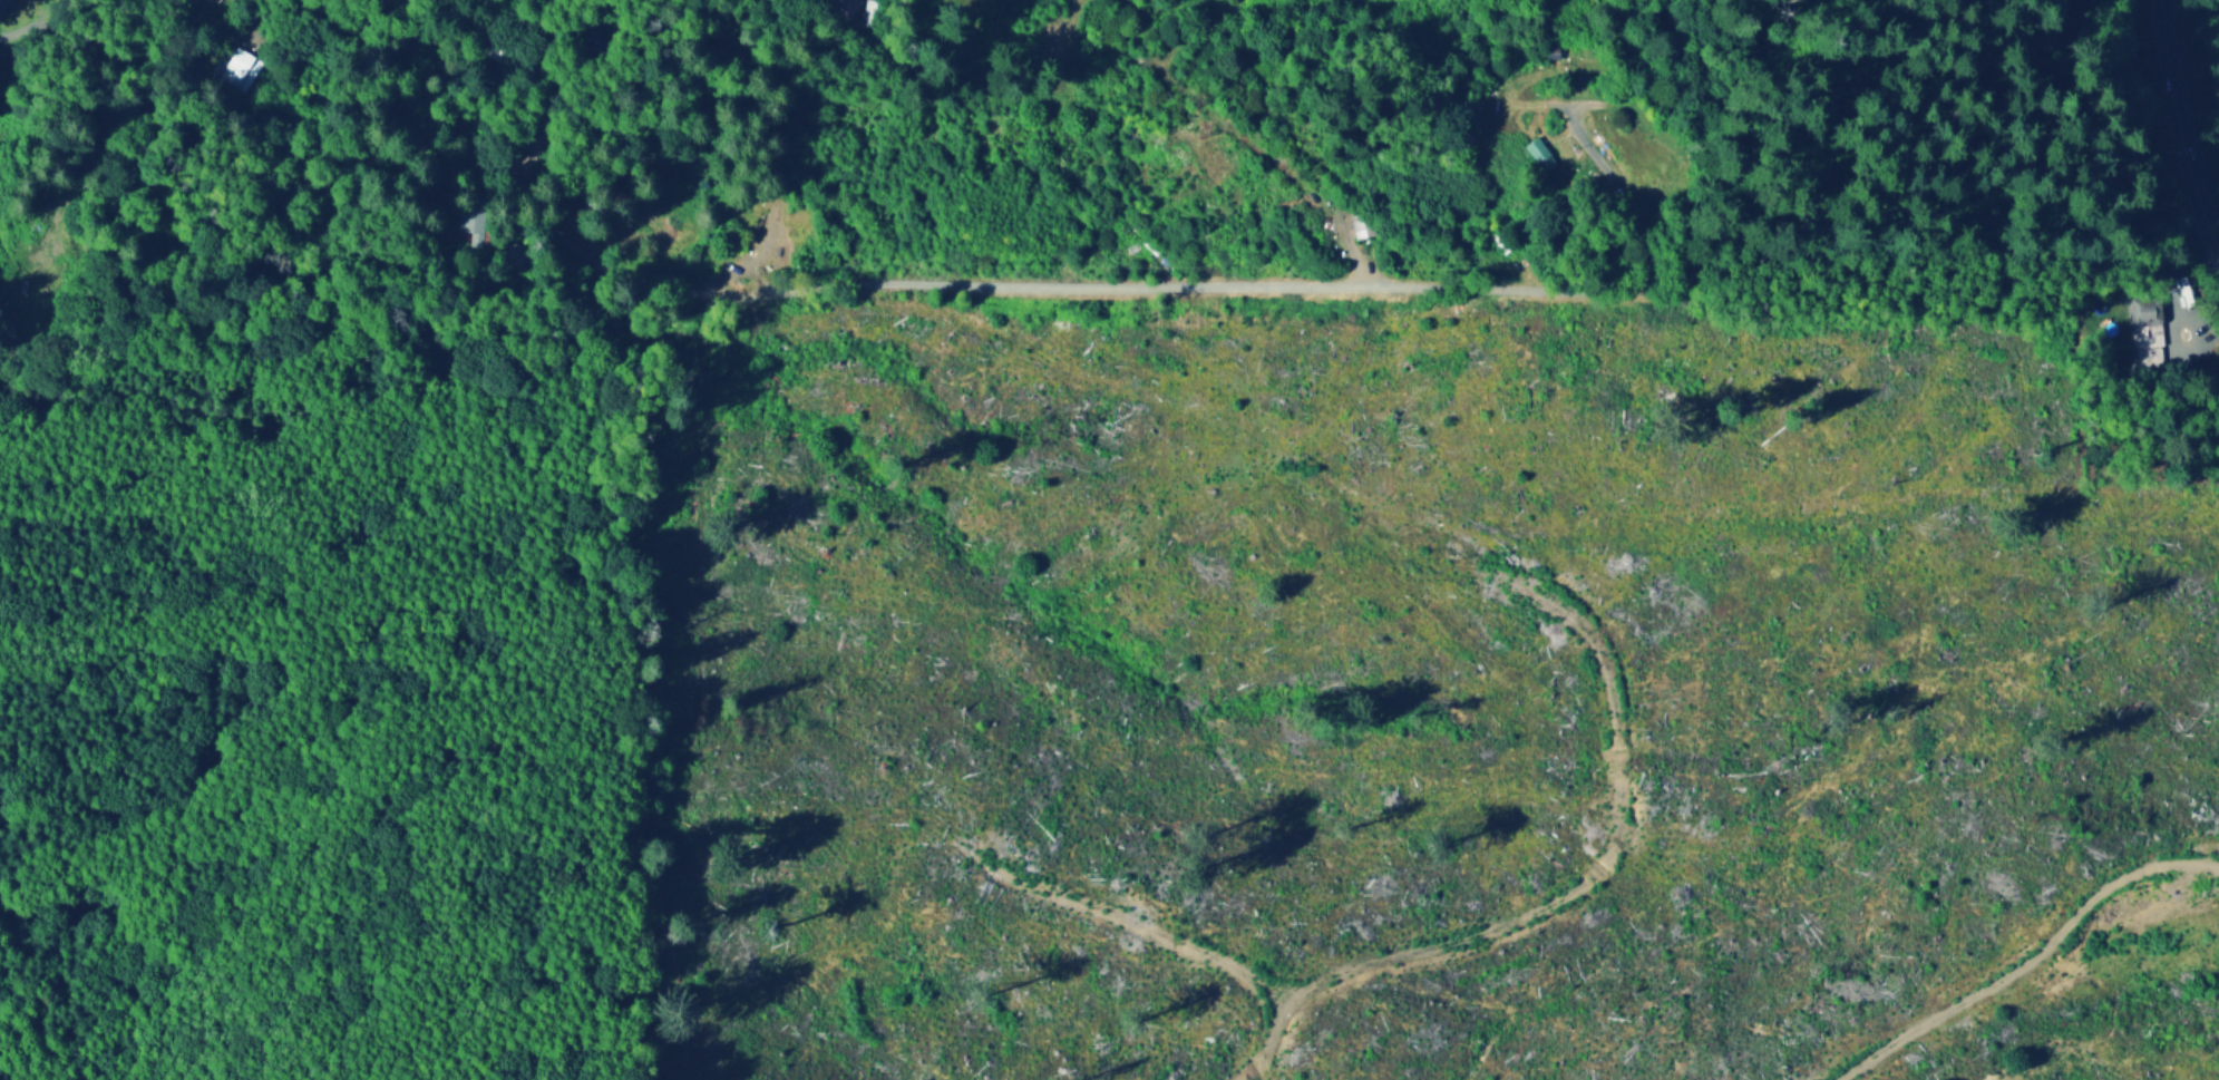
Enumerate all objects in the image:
building: (844, 4)
road: (565, 94)
road: (2194, 110)
road: (111, 144)
building: (1540, 153)
road: (1031, 291)
building: (2152, 338)

